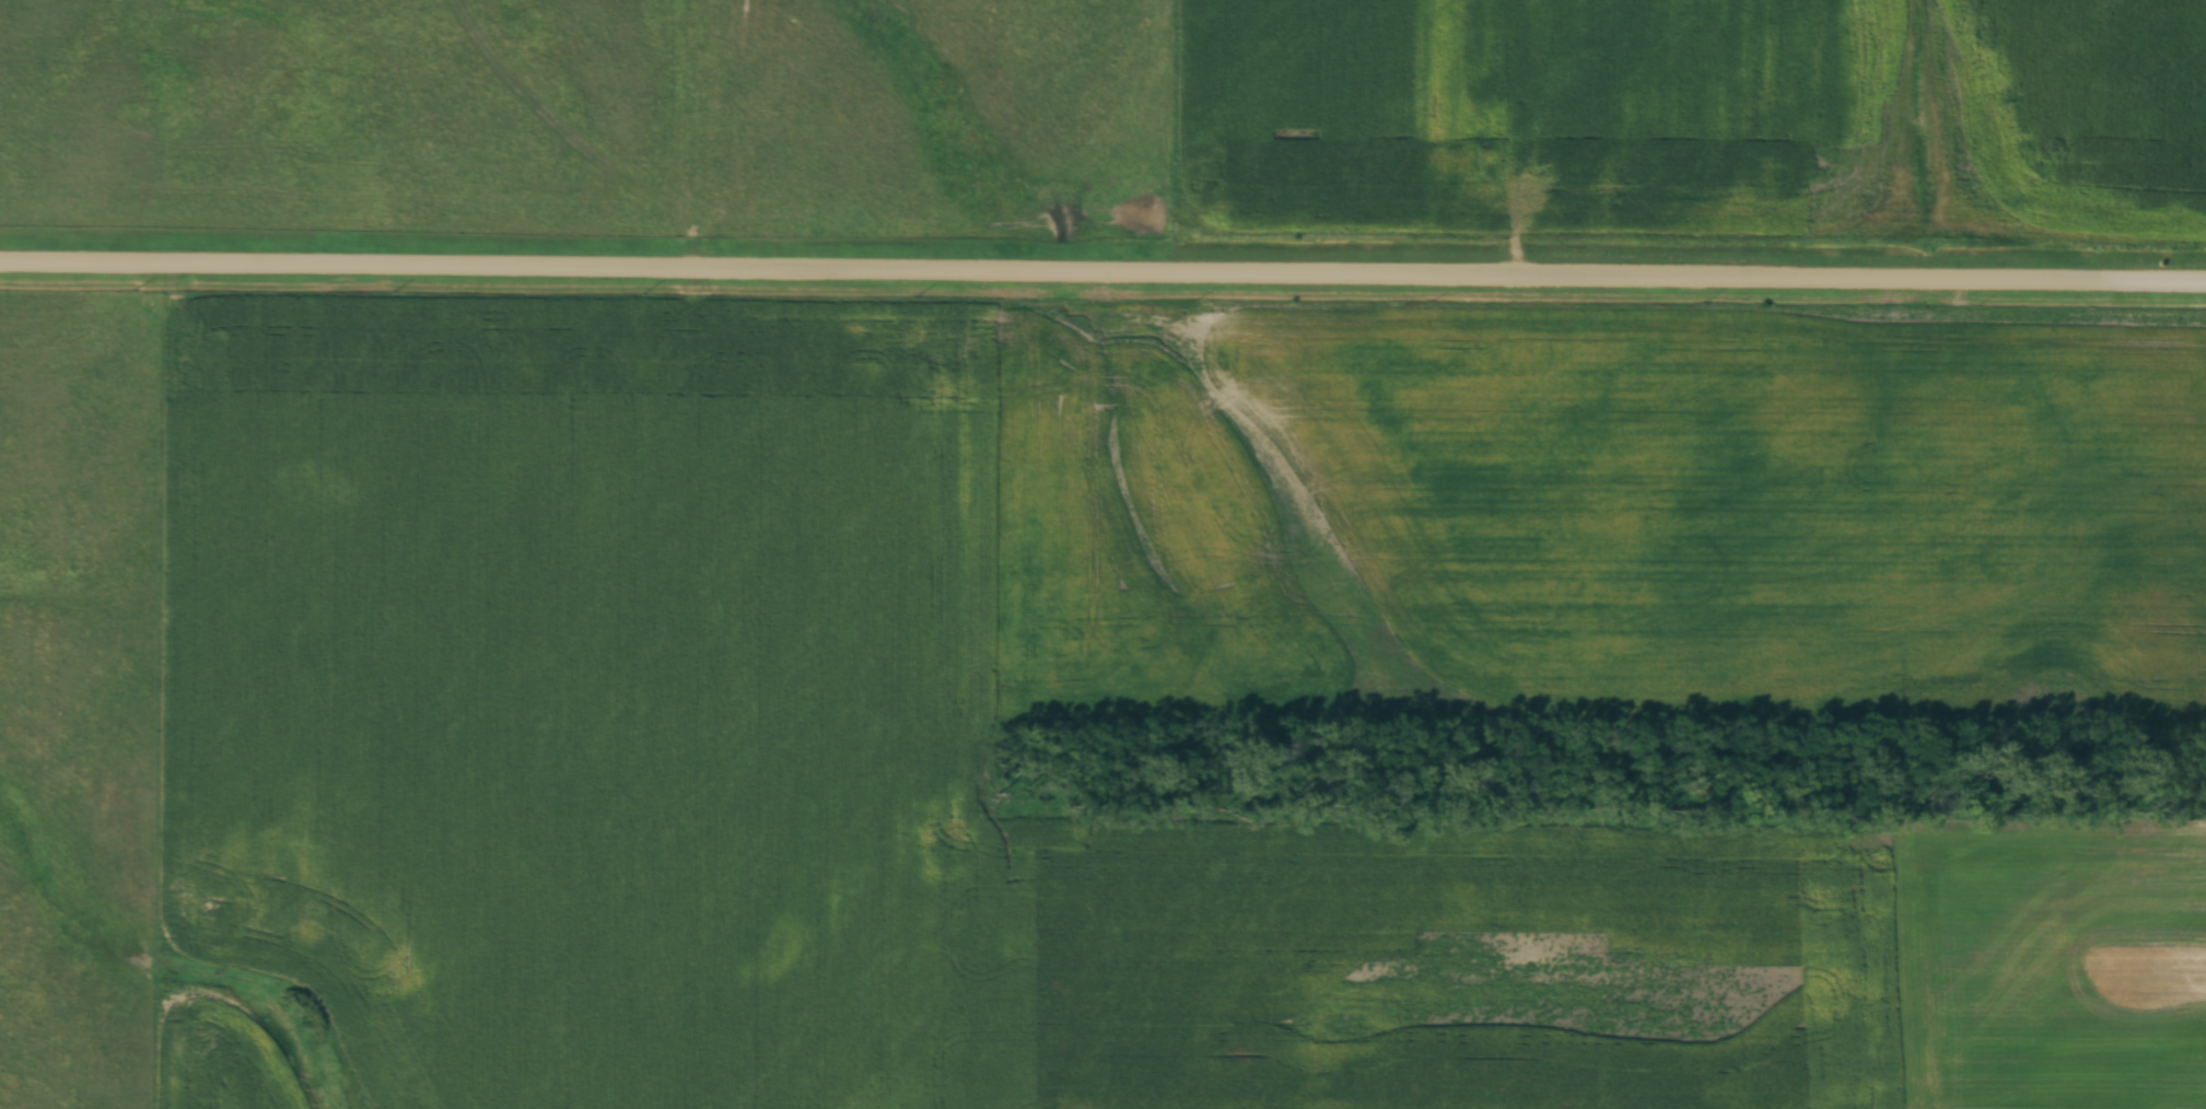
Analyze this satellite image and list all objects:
road: (1102, 267)
crop: (1186, 527)

